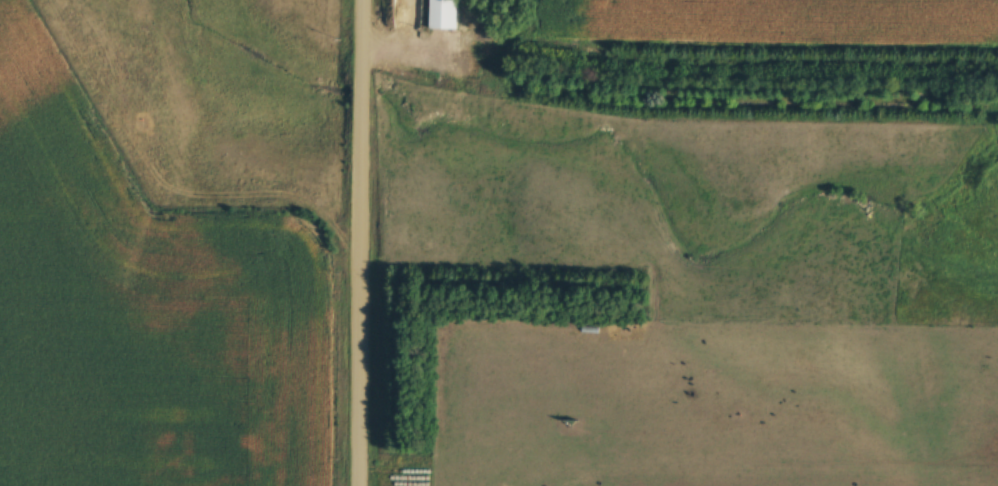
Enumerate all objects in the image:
road: (358, 243)

